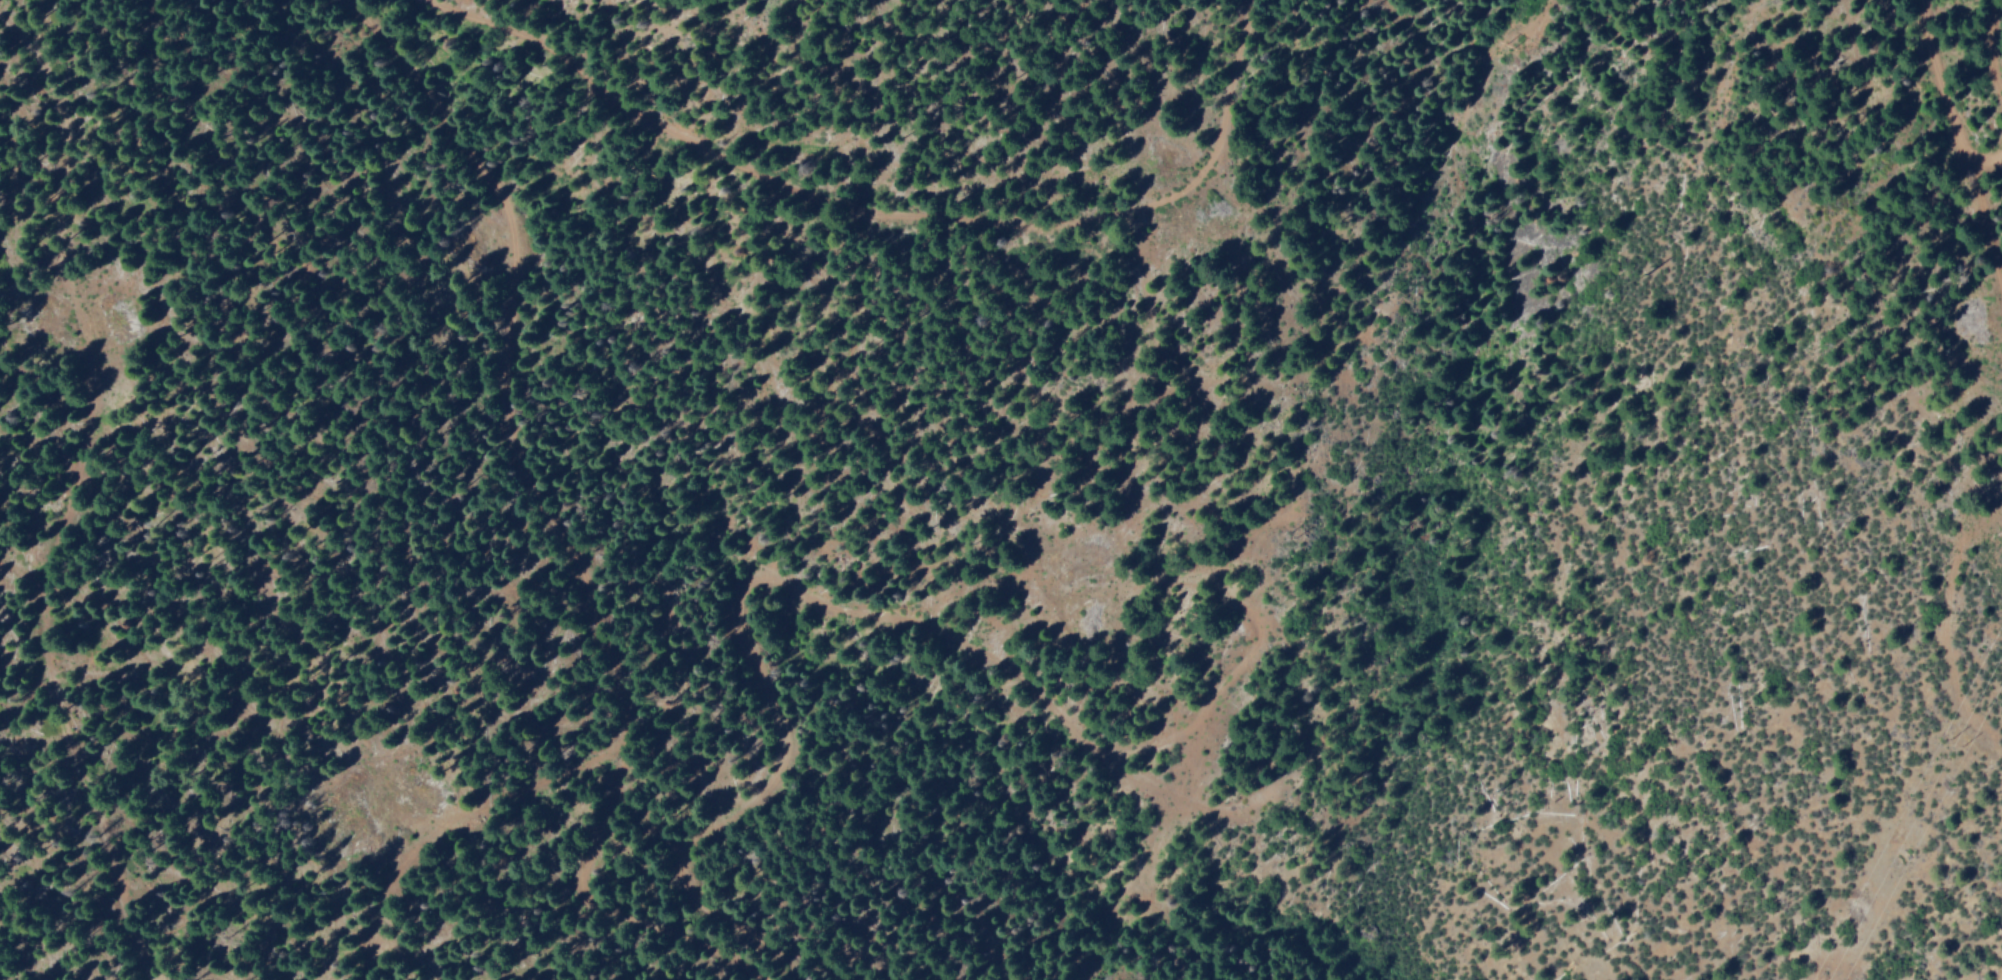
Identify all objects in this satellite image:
power tower: (1959, 738)

